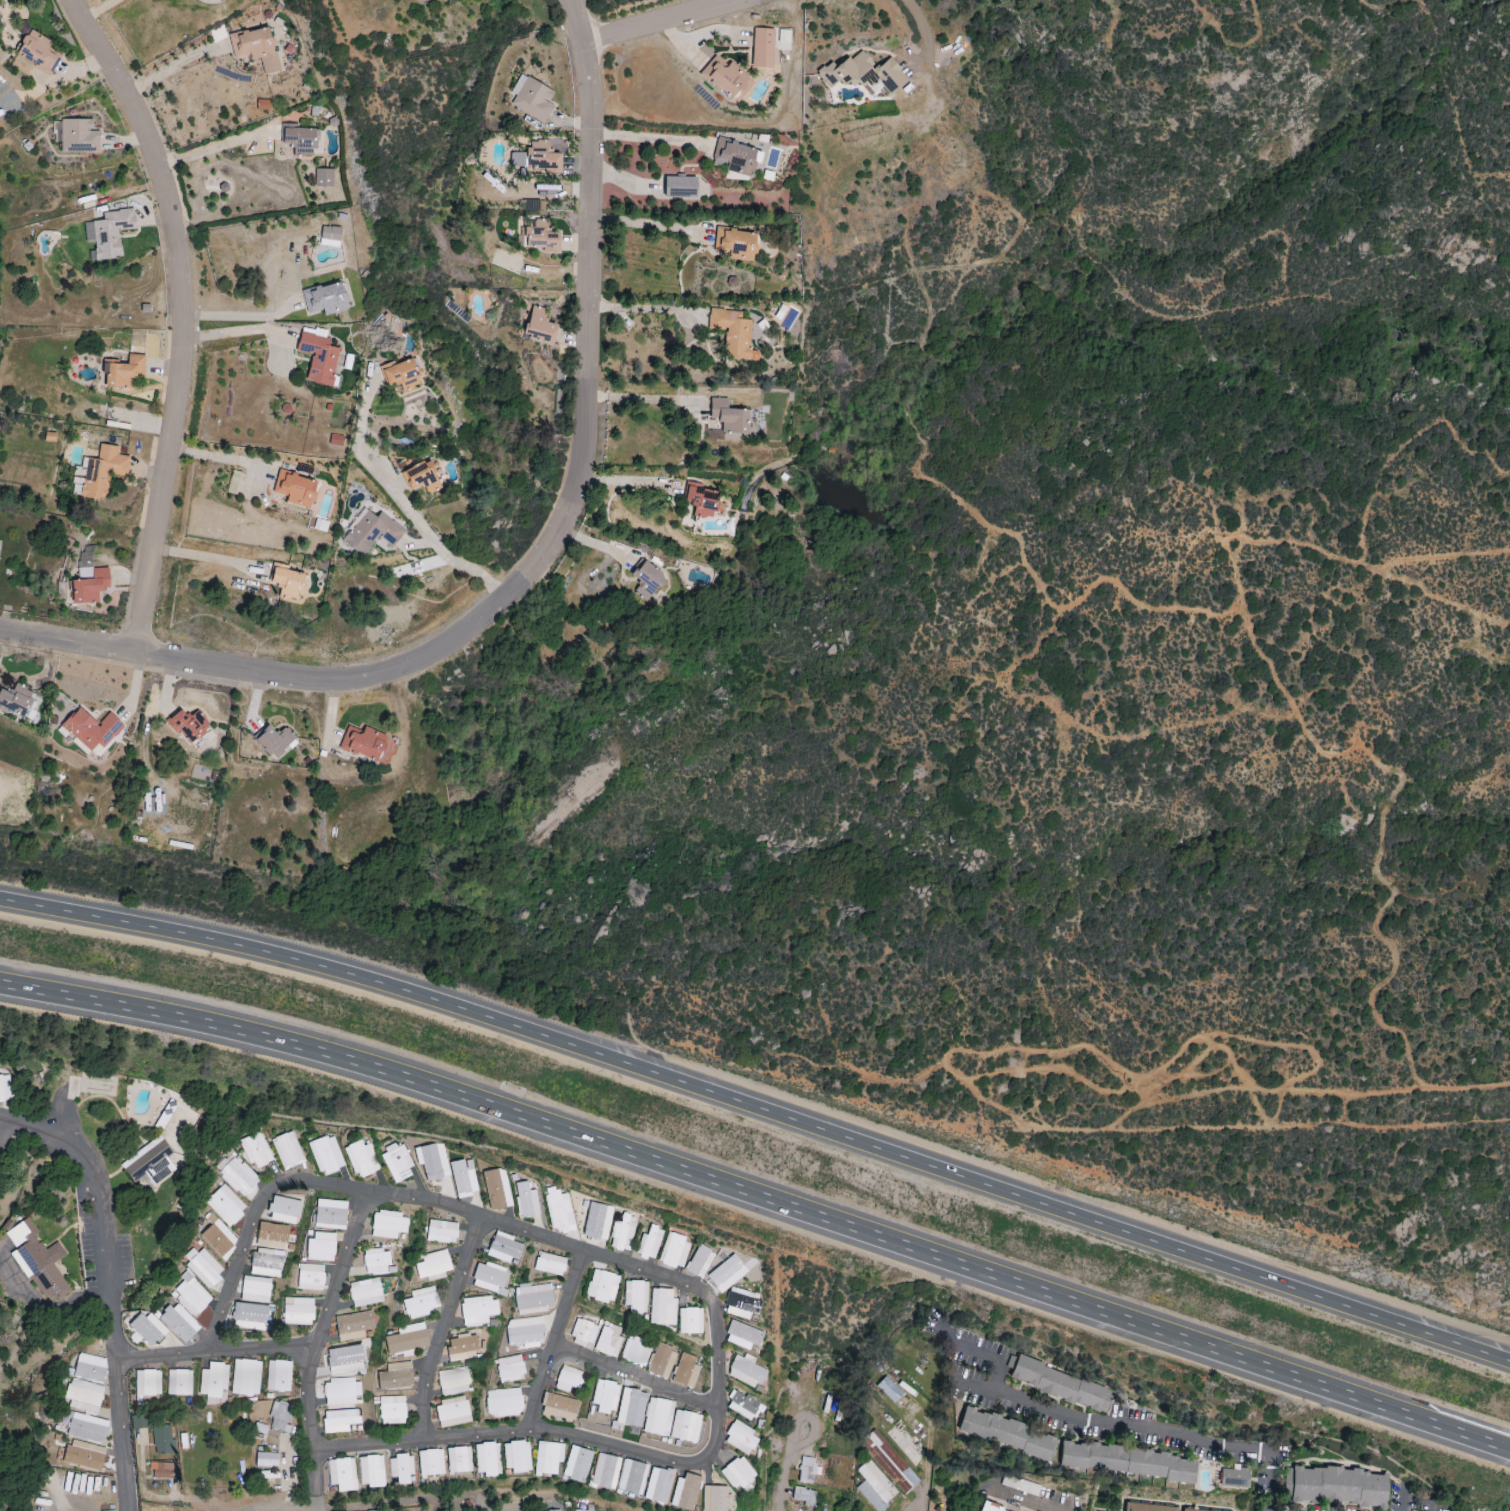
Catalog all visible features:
road: (741, 3)
road: (99, 10)
road: (675, 24)
road: (922, 25)
building: (783, 40)
building: (257, 47)
building: (764, 48)
building: (38, 51)
road: (173, 67)
building: (863, 73)
building: (727, 78)
building: (532, 98)
building: (79, 135)
road: (650, 137)
building: (301, 140)
road: (215, 150)
building: (544, 157)
building: (734, 157)
building: (518, 159)
building: (324, 177)
building: (681, 187)
road: (645, 226)
building: (109, 233)
building: (331, 233)
building: (542, 237)
building: (737, 244)
building: (327, 298)
road: (638, 308)
road: (237, 317)
road: (178, 318)
building: (540, 324)
road: (584, 328)
road: (235, 331)
building: (734, 333)
building: (319, 355)
building: (126, 372)
building: (402, 374)
road: (642, 398)
building: (730, 416)
building: (336, 440)
road: (216, 458)
building: (103, 471)
building: (422, 477)
road: (626, 482)
building: (296, 489)
building: (704, 500)
road: (401, 505)
building: (372, 532)
road: (205, 557)
building: (89, 579)
building: (287, 581)
building: (649, 581)
road: (243, 672)
building: (17, 701)
building: (189, 725)
building: (92, 729)
building: (276, 741)
building: (367, 744)
building: (5, 1088)
road: (760, 1112)
road: (1, 1122)
building: (256, 1150)
building: (287, 1150)
building: (326, 1155)
building: (361, 1159)
building: (433, 1161)
building: (149, 1162)
building: (397, 1162)
building: (238, 1177)
building: (464, 1178)
building: (497, 1189)
road: (760, 1198)
building: (526, 1200)
building: (225, 1205)
building: (284, 1210)
building: (559, 1210)
building: (331, 1214)
building: (389, 1225)
building: (442, 1231)
building: (622, 1234)
building: (273, 1236)
building: (219, 1239)
building: (649, 1243)
building: (322, 1247)
building: (504, 1248)
building: (674, 1250)
building: (39, 1262)
building: (377, 1262)
building: (700, 1262)
building: (267, 1263)
building: (551, 1264)
building: (434, 1265)
building: (204, 1268)
building: (729, 1268)
building: (311, 1277)
road: (338, 1277)
building: (490, 1278)
road: (110, 1281)
road: (687, 1281)
building: (603, 1286)
building: (365, 1292)
building: (190, 1295)
building: (635, 1296)
building: (534, 1298)
building: (421, 1302)
building: (741, 1304)
building: (662, 1307)
building: (297, 1311)
building: (478, 1311)
building: (251, 1316)
building: (691, 1321)
building: (179, 1323)
building: (354, 1325)
road: (448, 1325)
building: (147, 1329)
building: (525, 1331)
building: (585, 1333)
building: (743, 1336)
building: (407, 1339)
road: (560, 1339)
building: (608, 1341)
road: (257, 1346)
building: (462, 1347)
building: (634, 1351)
road: (982, 1352)
building: (346, 1359)
building: (662, 1361)
building: (91, 1367)
building: (510, 1368)
building: (686, 1371)
building: (746, 1371)
building: (279, 1375)
road: (640, 1375)
building: (396, 1376)
building: (245, 1377)
building: (569, 1379)
building: (213, 1380)
building: (454, 1381)
building: (147, 1382)
building: (179, 1382)
building: (1060, 1384)
building: (890, 1389)
building: (342, 1391)
building: (84, 1396)
building: (605, 1396)
building: (504, 1403)
building: (631, 1405)
building: (742, 1405)
building: (559, 1407)
building: (392, 1410)
building: (453, 1412)
building: (280, 1416)
building: (659, 1417)
building: (340, 1420)
building: (686, 1426)
road: (1140, 1426)
building: (88, 1428)
building: (1009, 1433)
building: (741, 1438)
building: (162, 1439)
building: (85, 1454)
building: (516, 1457)
building: (548, 1457)
building: (459, 1459)
building: (485, 1459)
building: (266, 1460)
building: (1129, 1461)
road: (927, 1462)
building: (431, 1463)
building: (578, 1463)
building: (401, 1468)
building: (161, 1470)
building: (806, 1470)
building: (371, 1471)
building: (606, 1471)
building: (738, 1473)
building: (342, 1474)
building: (882, 1474)
building: (632, 1477)
building: (1235, 1477)
road: (313, 1479)
road: (782, 1482)
building: (659, 1484)
building: (1339, 1486)
building: (686, 1491)
building: (803, 1496)
building: (715, 1498)
road: (407, 1499)
road: (1025, 1500)
road: (240, 1507)
building: (1150, 1507)
building: (991, 1508)
building: (1193, 1509)
building: (552, 1510)

